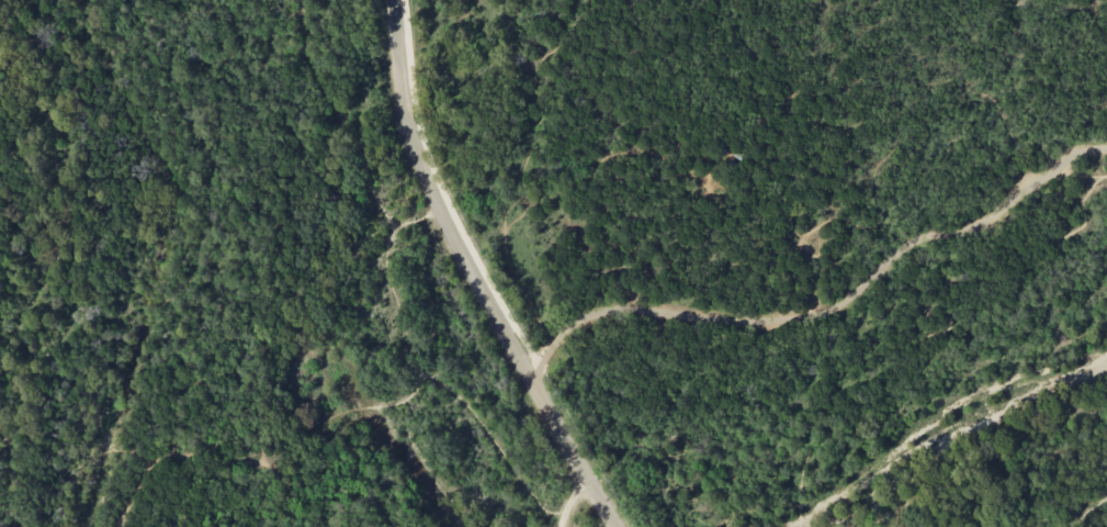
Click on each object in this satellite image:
road: (300, 5)
road: (281, 21)
road: (359, 63)
road: (8, 136)
road: (443, 192)
road: (434, 199)
road: (833, 204)
road: (420, 217)
road: (68, 221)
road: (194, 271)
road: (829, 310)
park: (487, 315)
road: (15, 397)
road: (343, 412)
road: (97, 422)
road: (575, 453)
road: (157, 456)
road: (8, 482)
road: (133, 497)
road: (568, 498)
road: (1086, 508)

